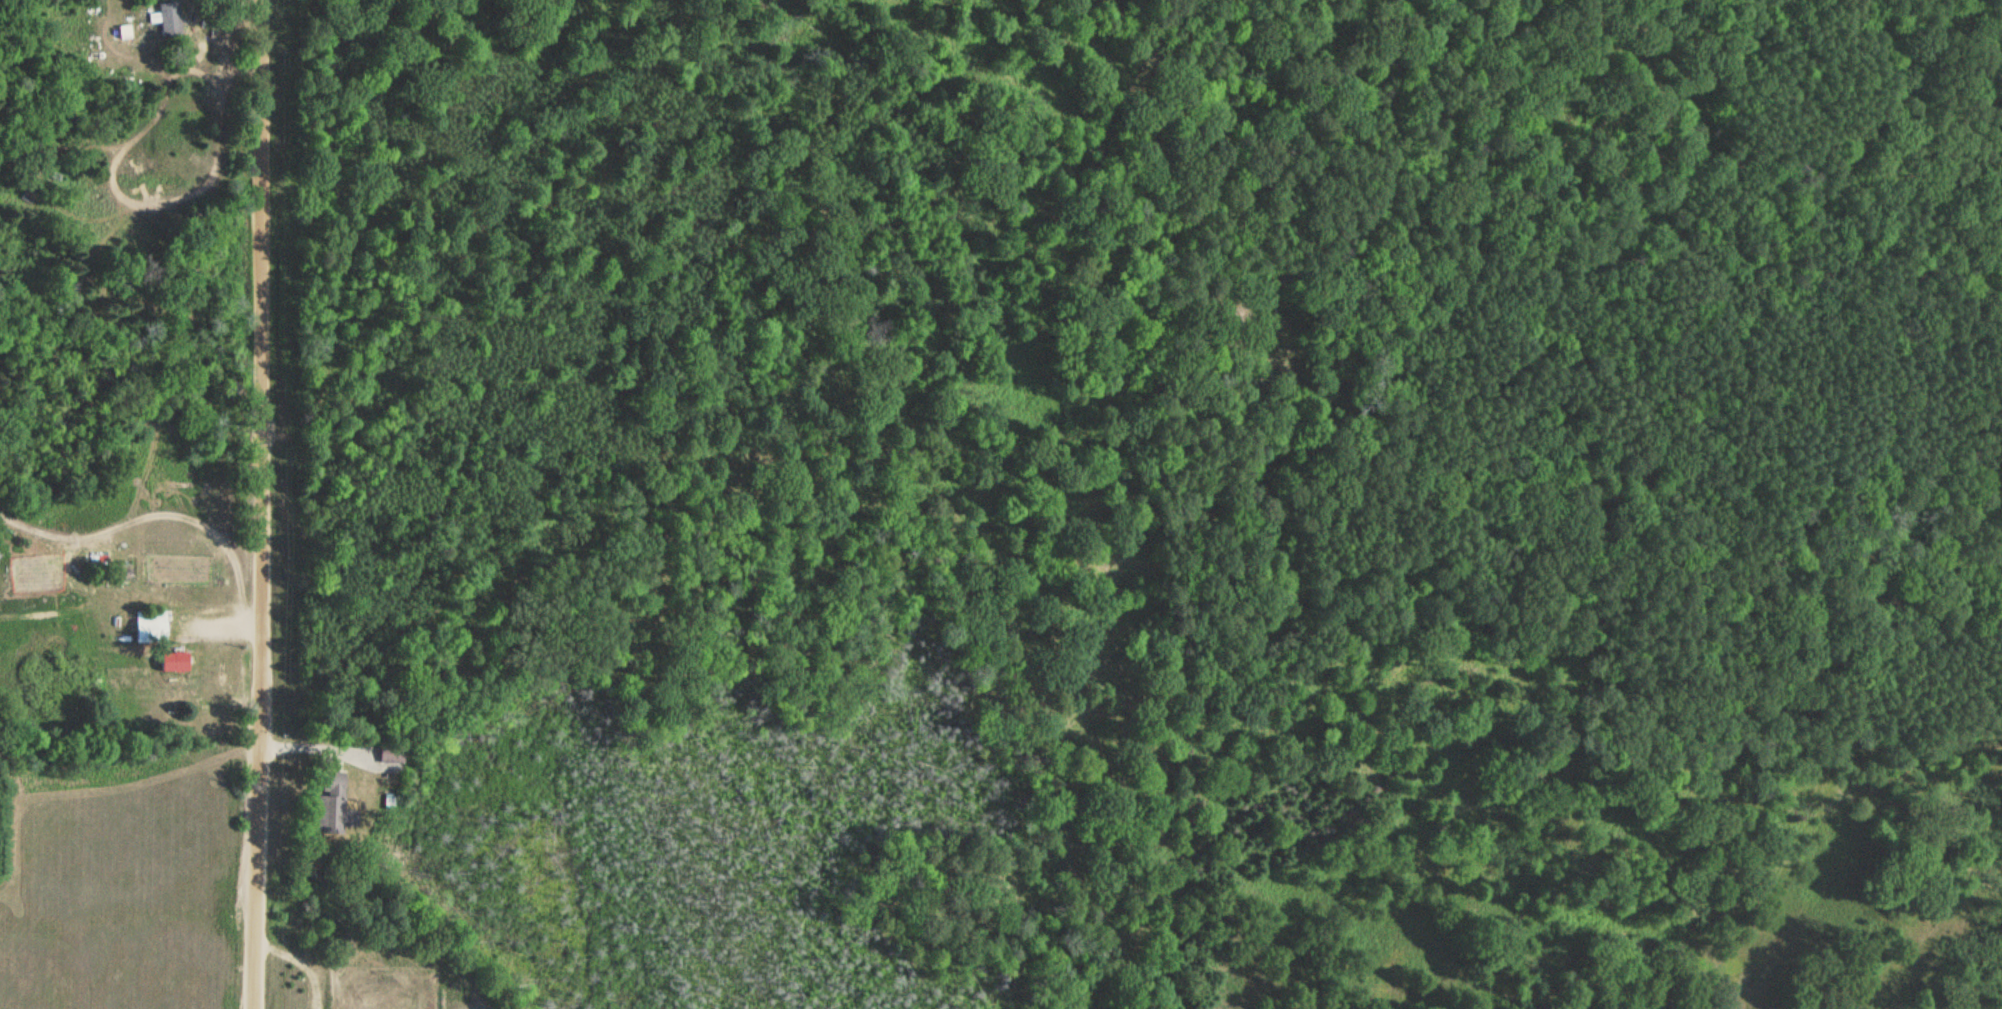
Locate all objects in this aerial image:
building: (167, 15)
road: (269, 392)
building: (148, 624)
road: (220, 626)
building: (172, 660)
road: (310, 747)
building: (390, 752)
road: (333, 754)
building: (333, 800)
road: (253, 896)

